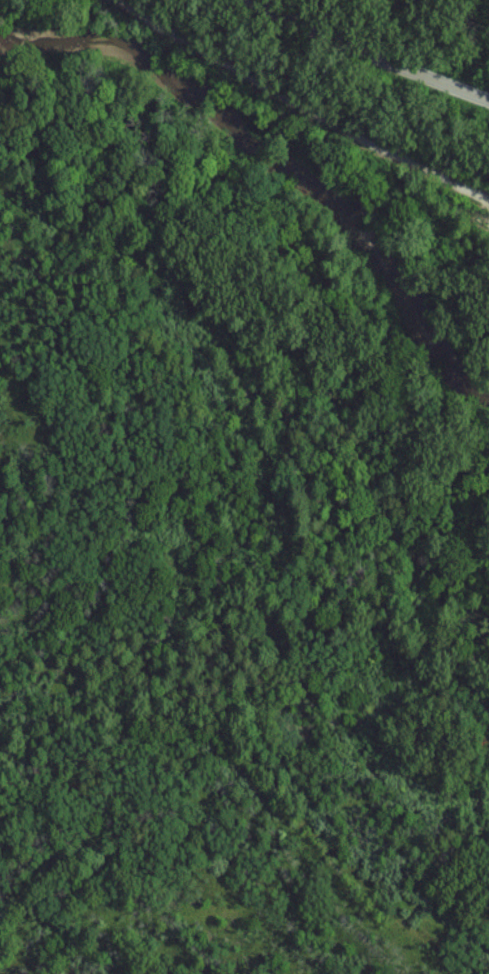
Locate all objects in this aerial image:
road: (381, 54)
road: (309, 100)
railway: (482, 219)

